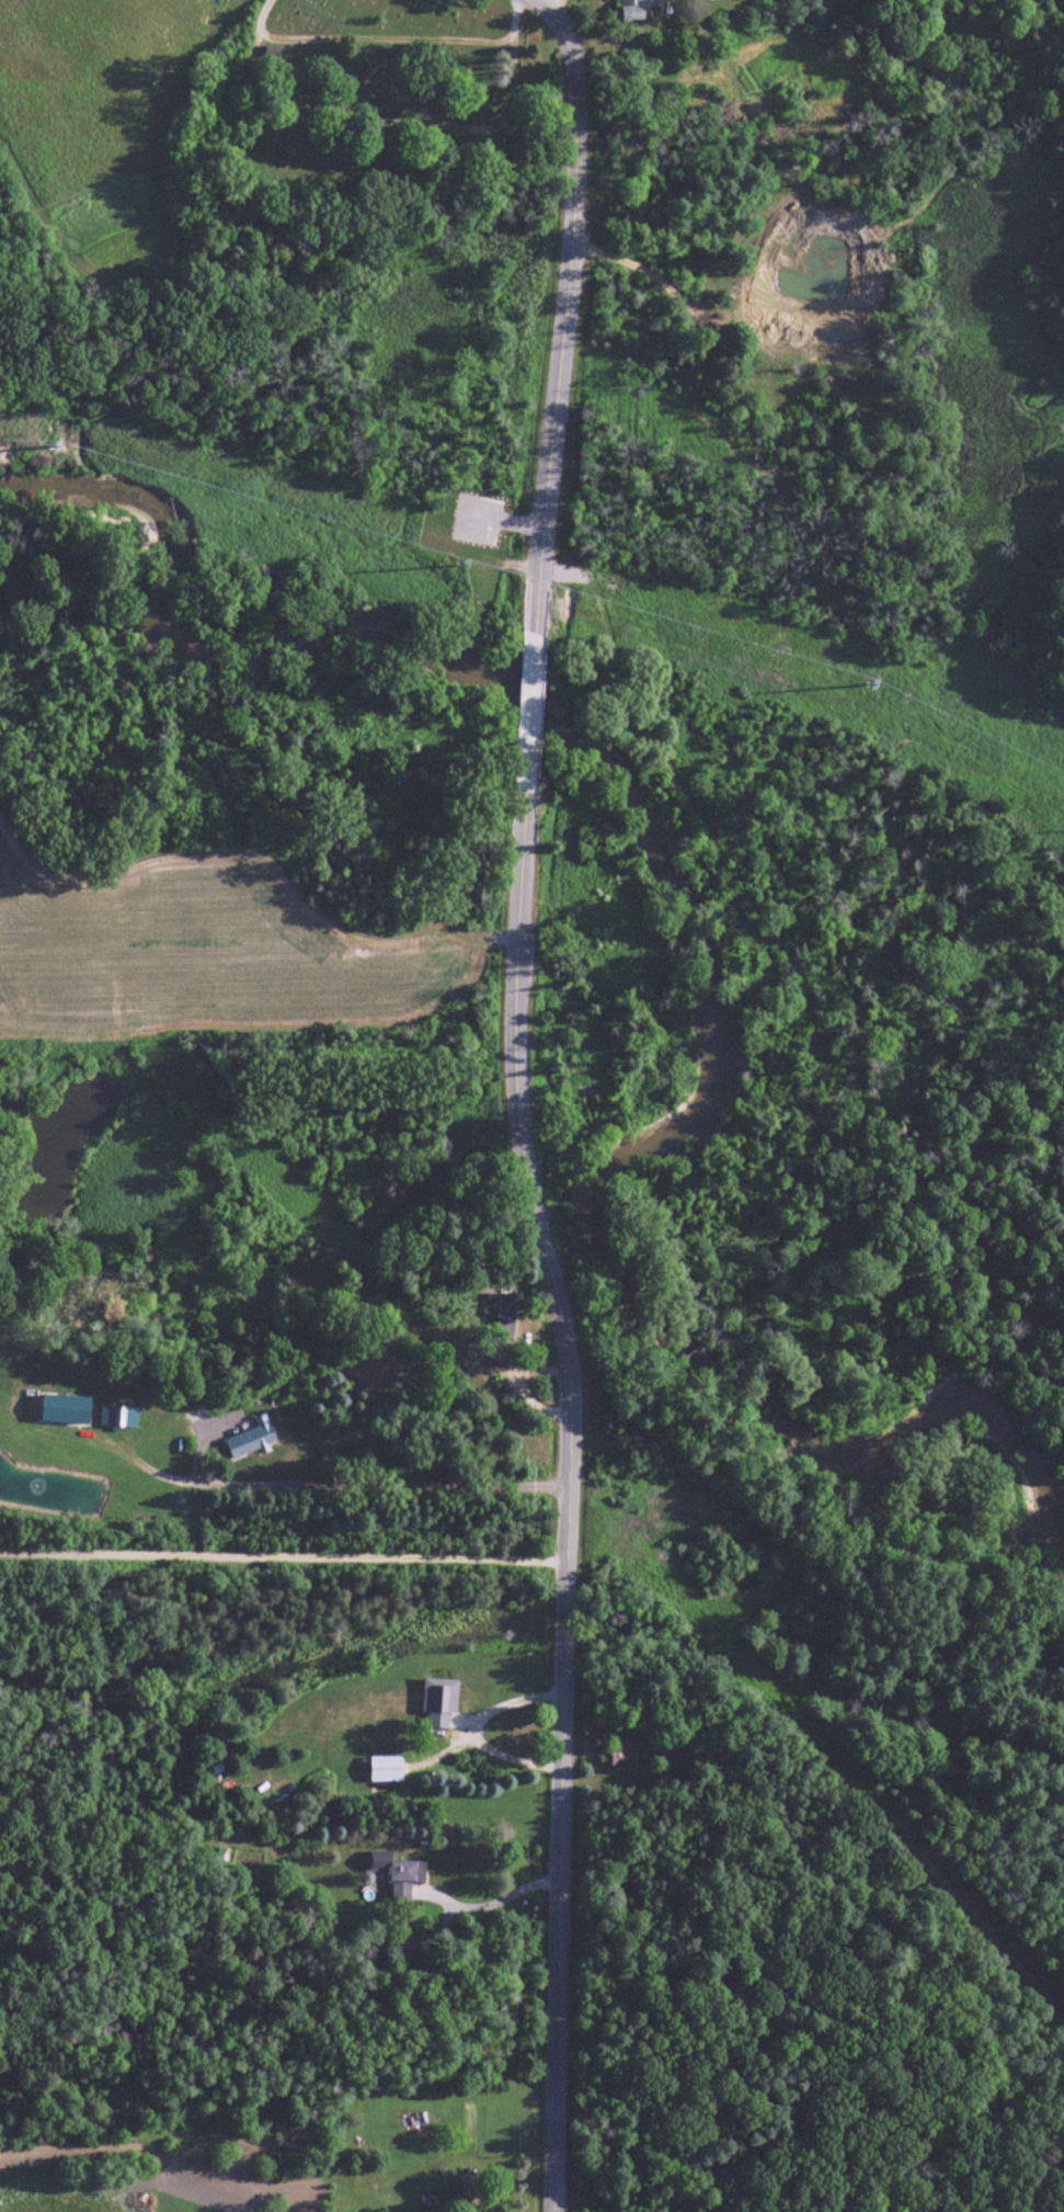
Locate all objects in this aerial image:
building: (639, 9)
road: (558, 25)
road: (388, 41)
building: (272, 55)
park: (367, 107)
road: (477, 132)
road: (562, 355)
power tower: (46, 436)
power tower: (451, 555)
power tower: (860, 673)
road: (531, 714)
river: (694, 953)
building: (506, 1323)
building: (69, 1411)
building: (119, 1417)
building: (252, 1441)
road: (571, 1490)
road: (283, 1561)
building: (441, 1708)
building: (614, 1759)
building: (388, 1771)
building: (399, 1874)
road: (491, 1905)
building: (461, 2189)

